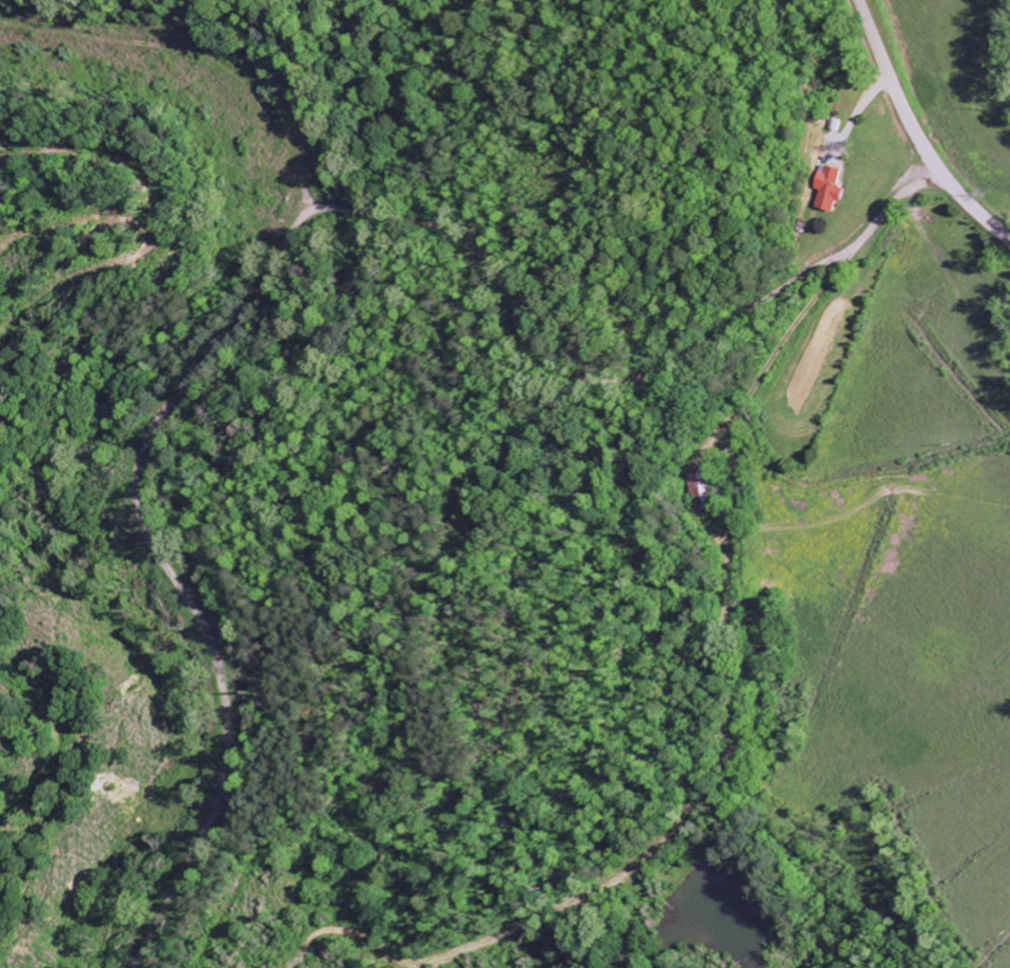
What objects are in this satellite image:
road: (916, 133)
building: (832, 187)
road: (553, 383)
road: (712, 448)

